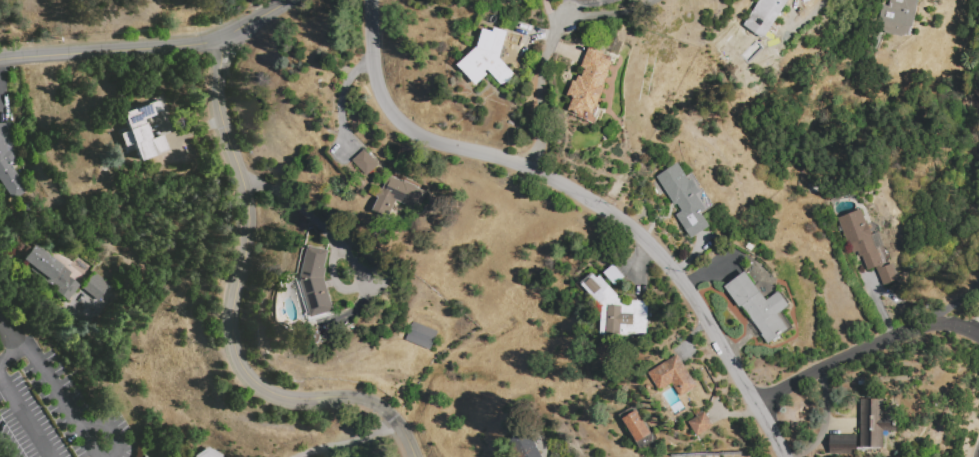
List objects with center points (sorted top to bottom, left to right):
road: (608, 13)
road: (549, 16)
building: (764, 16)
road: (810, 16)
building: (898, 16)
road: (146, 47)
building: (487, 59)
building: (590, 85)
road: (538, 93)
road: (340, 99)
building: (140, 131)
building: (8, 163)
building: (365, 163)
building: (396, 196)
building: (686, 198)
road: (586, 200)
road: (331, 244)
building: (868, 245)
building: (49, 269)
building: (316, 283)
building: (94, 285)
road: (956, 304)
road: (234, 305)
building: (760, 307)
building: (615, 309)
road: (5, 327)
building: (421, 336)
road: (19, 340)
road: (864, 348)
road: (14, 355)
building: (672, 376)
road: (55, 390)
parking lot: (55, 416)
road: (24, 417)
building: (874, 423)
building: (700, 424)
building: (638, 426)
road: (107, 429)
road: (353, 443)
road: (88, 445)
building: (843, 445)
building: (522, 446)
road: (2, 452)
building: (208, 453)

